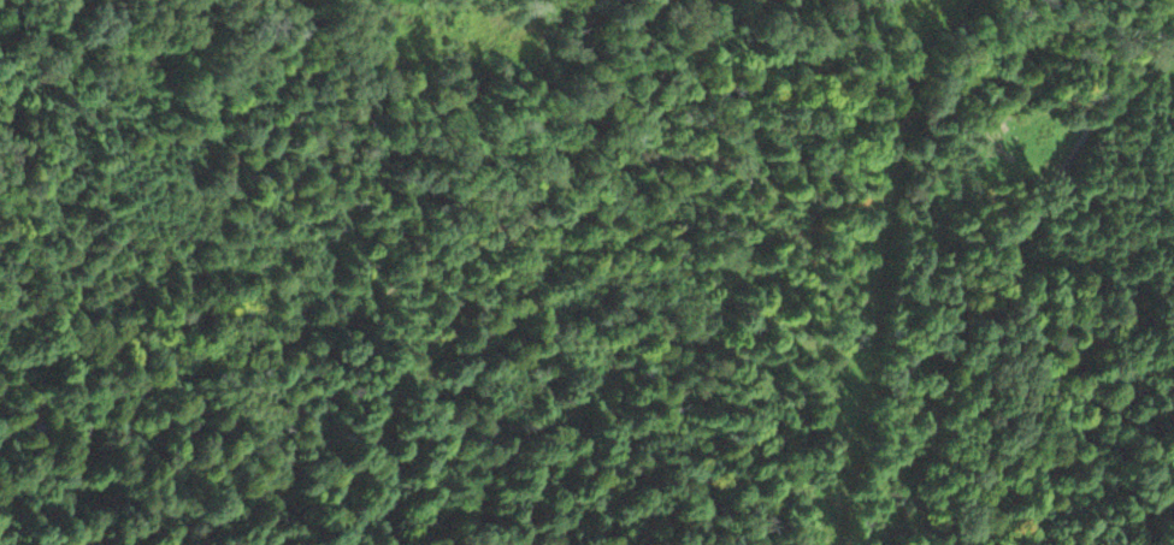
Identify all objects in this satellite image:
road: (1007, 253)

